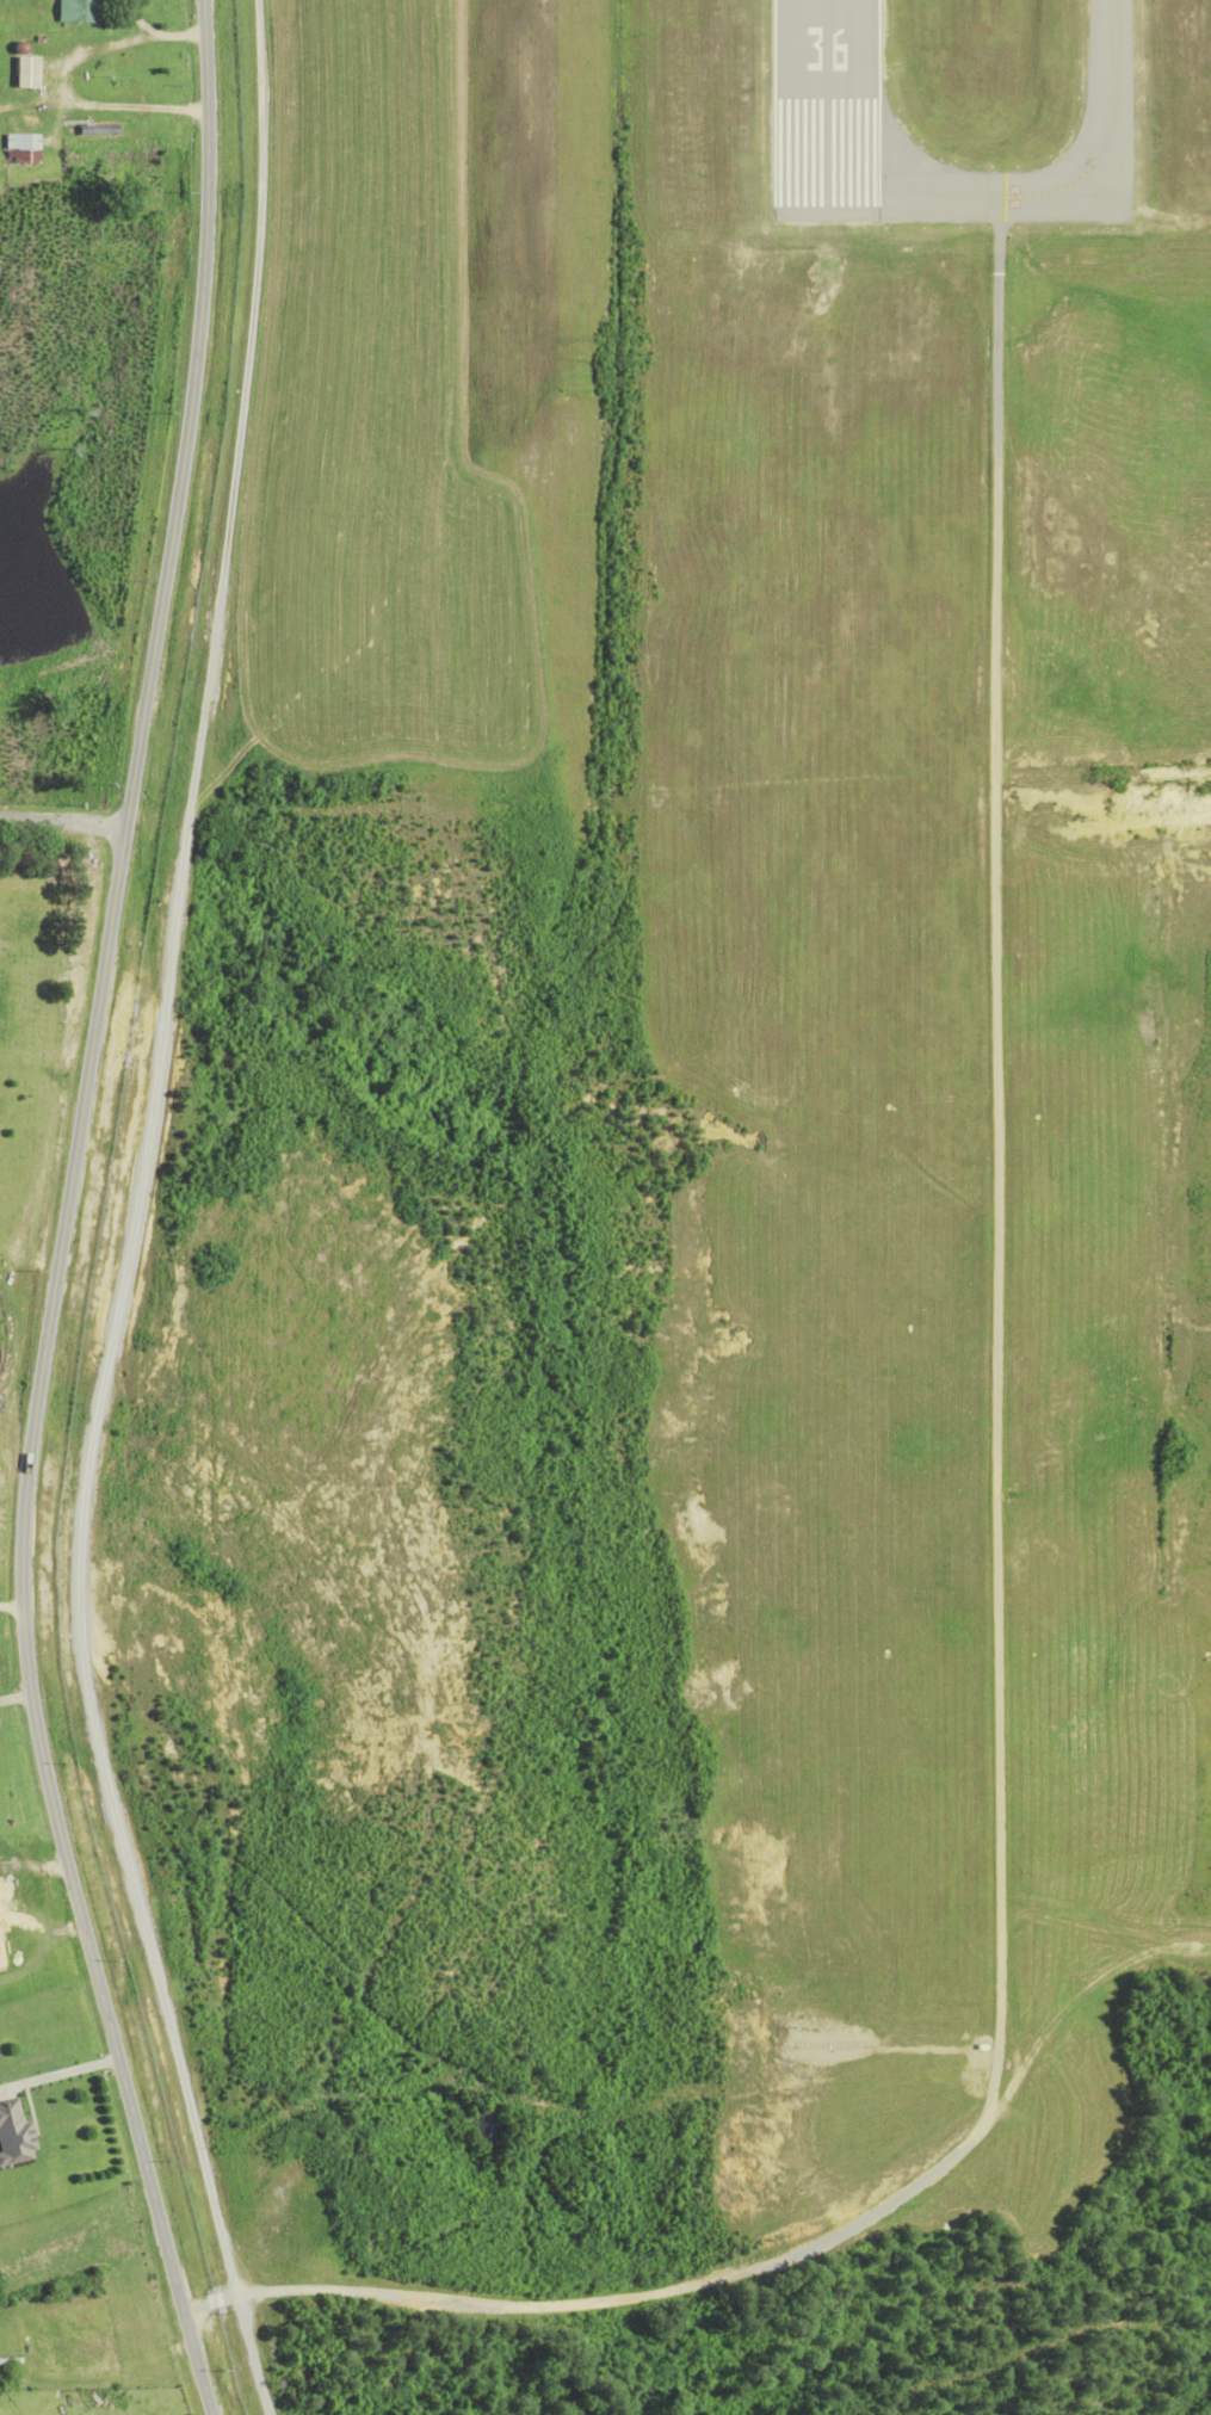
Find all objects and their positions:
building: (78, 11)
building: (27, 72)
airport runway: (823, 109)
building: (95, 128)
building: (21, 148)
airport taxiway: (1026, 192)
road: (1105, 776)
road: (62, 829)
road: (64, 1215)
road: (131, 1216)
road: (1002, 1593)
road: (12, 1611)
road: (17, 1694)
road: (38, 1884)
road: (60, 2074)
building: (14, 2133)

